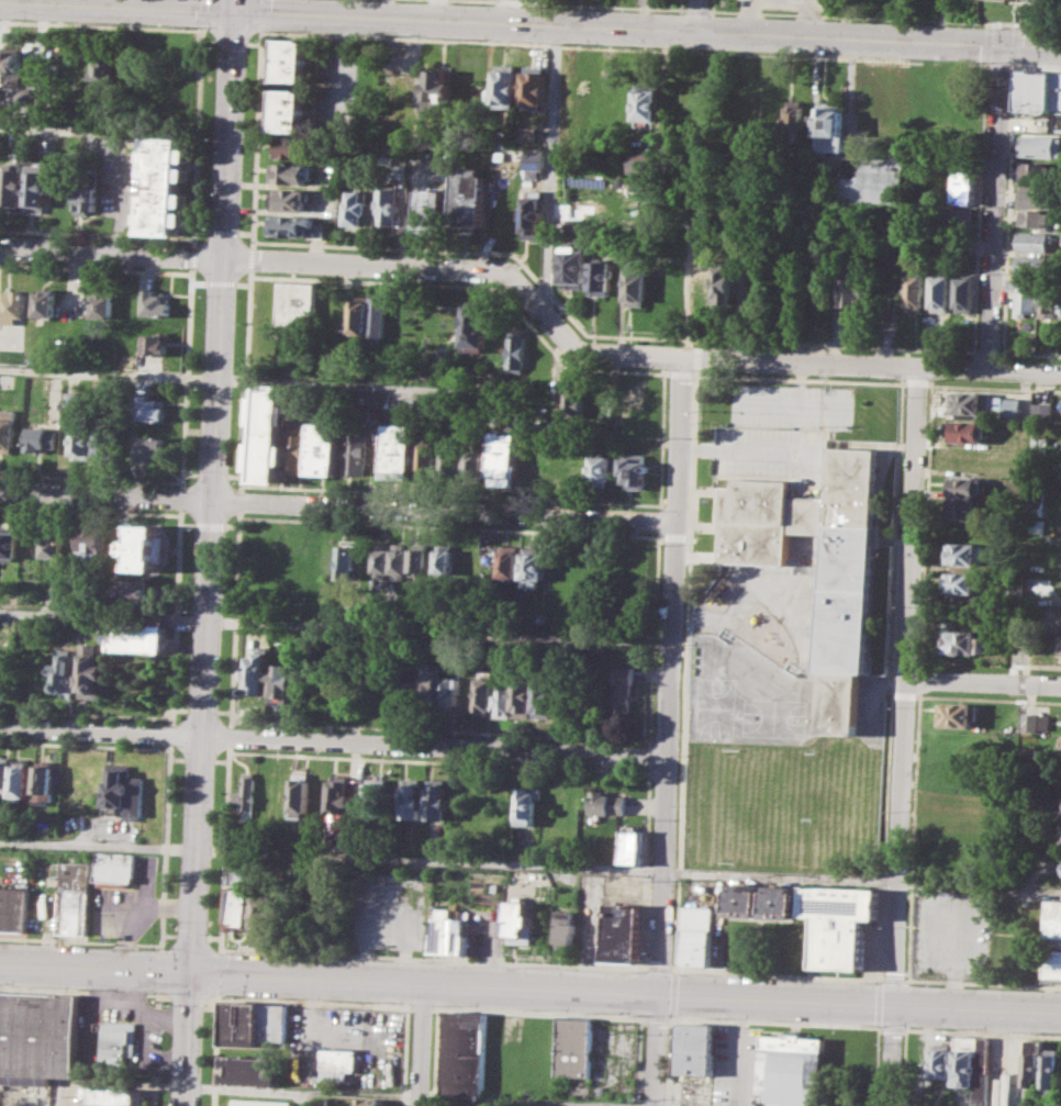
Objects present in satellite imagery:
building: (1041, 0)
road: (583, 4)
road: (678, 4)
road: (712, 4)
road: (694, 9)
road: (202, 12)
road: (261, 13)
road: (695, 14)
road: (883, 18)
road: (530, 22)
road: (1017, 26)
road: (202, 27)
road: (201, 36)
road: (403, 37)
road: (208, 41)
road: (231, 41)
road: (253, 42)
road: (1015, 44)
road: (552, 45)
traffic signals: (1002, 46)
road: (773, 54)
building: (291, 59)
building: (11, 62)
road: (346, 64)
road: (998, 64)
road: (1035, 65)
building: (104, 72)
parking lot: (347, 82)
building: (505, 85)
building: (534, 87)
building: (439, 89)
building: (1056, 91)
building: (1034, 92)
building: (647, 102)
building: (289, 109)
building: (792, 122)
building: (828, 124)
road: (45, 130)
building: (532, 133)
road: (255, 137)
building: (1037, 143)
building: (295, 147)
building: (533, 161)
building: (165, 163)
building: (639, 163)
road: (550, 165)
building: (1036, 170)
building: (289, 172)
building: (878, 179)
building: (963, 179)
building: (13, 186)
building: (36, 187)
building: (1036, 197)
building: (86, 198)
building: (467, 199)
building: (288, 200)
building: (387, 204)
road: (1008, 206)
building: (354, 208)
road: (979, 208)
road: (996, 209)
building: (432, 210)
building: (163, 211)
building: (533, 213)
building: (954, 214)
building: (1036, 217)
building: (291, 225)
building: (574, 226)
road: (200, 230)
road: (223, 231)
road: (245, 233)
road: (96, 234)
building: (1034, 242)
road: (401, 248)
road: (223, 249)
road: (191, 255)
road: (249, 259)
building: (1034, 265)
building: (573, 266)
road: (96, 268)
road: (476, 270)
building: (856, 273)
building: (602, 278)
road: (198, 281)
building: (638, 281)
road: (221, 282)
road: (243, 282)
building: (725, 283)
building: (914, 289)
road: (546, 290)
building: (940, 290)
building: (853, 291)
building: (963, 293)
building: (1024, 294)
building: (1048, 301)
building: (155, 302)
building: (297, 302)
building: (45, 303)
building: (102, 305)
building: (15, 306)
building: (358, 314)
building: (378, 315)
road: (527, 320)
building: (474, 325)
building: (97, 331)
road: (8, 340)
road: (757, 342)
building: (157, 344)
building: (517, 350)
road: (987, 351)
road: (1029, 354)
road: (989, 370)
road: (668, 372)
road: (681, 372)
road: (187, 377)
road: (798, 378)
road: (245, 379)
road: (916, 380)
road: (261, 382)
road: (993, 387)
building: (71, 399)
building: (574, 402)
building: (969, 402)
building: (149, 407)
road: (800, 407)
building: (1042, 410)
building: (8, 428)
building: (965, 431)
building: (267, 433)
parking lot: (782, 433)
building: (83, 434)
building: (105, 435)
building: (42, 438)
building: (1039, 443)
building: (149, 446)
building: (324, 448)
building: (295, 449)
building: (397, 450)
building: (356, 451)
road: (746, 453)
building: (424, 454)
building: (503, 458)
road: (693, 458)
building: (449, 462)
building: (474, 466)
building: (634, 469)
building: (601, 470)
road: (190, 473)
road: (211, 473)
road: (233, 474)
road: (90, 478)
building: (964, 485)
road: (105, 494)
road: (450, 494)
road: (181, 498)
road: (239, 499)
building: (1035, 502)
building: (963, 509)
road: (90, 510)
road: (444, 510)
road: (660, 520)
road: (188, 524)
road: (209, 524)
road: (232, 525)
road: (451, 526)
road: (674, 536)
building: (9, 541)
building: (93, 544)
building: (56, 545)
building: (146, 547)
building: (963, 552)
building: (421, 559)
building: (383, 561)
building: (348, 562)
building: (401, 562)
building: (444, 562)
building: (510, 562)
building: (534, 566)
building: (962, 582)
building: (136, 591)
road: (176, 615)
building: (845, 616)
building: (541, 617)
road: (234, 618)
building: (1059, 618)
road: (336, 627)
building: (139, 637)
road: (655, 638)
building: (964, 641)
building: (1058, 644)
building: (450, 647)
building: (91, 668)
building: (66, 672)
building: (257, 672)
road: (889, 680)
building: (282, 683)
building: (432, 684)
road: (906, 684)
road: (984, 686)
building: (625, 688)
building: (403, 692)
building: (485, 692)
building: (450, 695)
building: (524, 696)
building: (545, 696)
building: (504, 699)
road: (179, 708)
road: (201, 710)
road: (223, 711)
road: (86, 713)
building: (957, 715)
building: (1035, 722)
road: (440, 729)
road: (669, 730)
road: (170, 733)
road: (230, 736)
road: (334, 742)
road: (85, 745)
road: (650, 756)
road: (177, 757)
road: (199, 758)
road: (221, 759)
road: (537, 766)
road: (650, 769)
building: (954, 771)
building: (4, 772)
building: (21, 781)
building: (44, 783)
building: (123, 790)
building: (247, 792)
building: (339, 793)
building: (300, 794)
building: (377, 794)
building: (411, 798)
building: (437, 798)
road: (200, 802)
building: (608, 803)
building: (526, 804)
building: (1060, 813)
road: (166, 846)
building: (632, 846)
road: (225, 848)
road: (332, 854)
building: (118, 869)
building: (242, 869)
road: (780, 875)
road: (979, 884)
building: (75, 897)
building: (745, 901)
building: (781, 902)
building: (239, 907)
building: (14, 908)
building: (266, 914)
building: (518, 923)
building: (839, 923)
building: (563, 927)
building: (447, 931)
building: (621, 932)
road: (169, 934)
parking lot: (954, 934)
road: (190, 935)
building: (699, 935)
road: (213, 936)
road: (80, 940)
building: (1052, 942)
road: (433, 958)
road: (658, 968)
traffic signals: (193, 972)
road: (775, 973)
road: (892, 979)
road: (446, 982)
road: (982, 982)
road: (82, 990)
road: (187, 994)
road: (976, 1006)
building: (275, 1023)
building: (242, 1024)
building: (38, 1036)
building: (123, 1042)
road: (421, 1043)
building: (573, 1047)
building: (700, 1049)
building: (462, 1052)
road: (892, 1054)
building: (940, 1060)
building: (338, 1061)
building: (1034, 1062)
building: (973, 1065)
building: (252, 1070)
building: (792, 1071)
building: (1052, 1071)
road: (304, 1092)
building: (1007, 1093)
building: (115, 1095)
road: (298, 1098)
road: (514, 1101)
building: (259, 1102)
building: (320, 1102)
building: (368, 1102)
road: (535, 1104)
building: (470, 1105)

